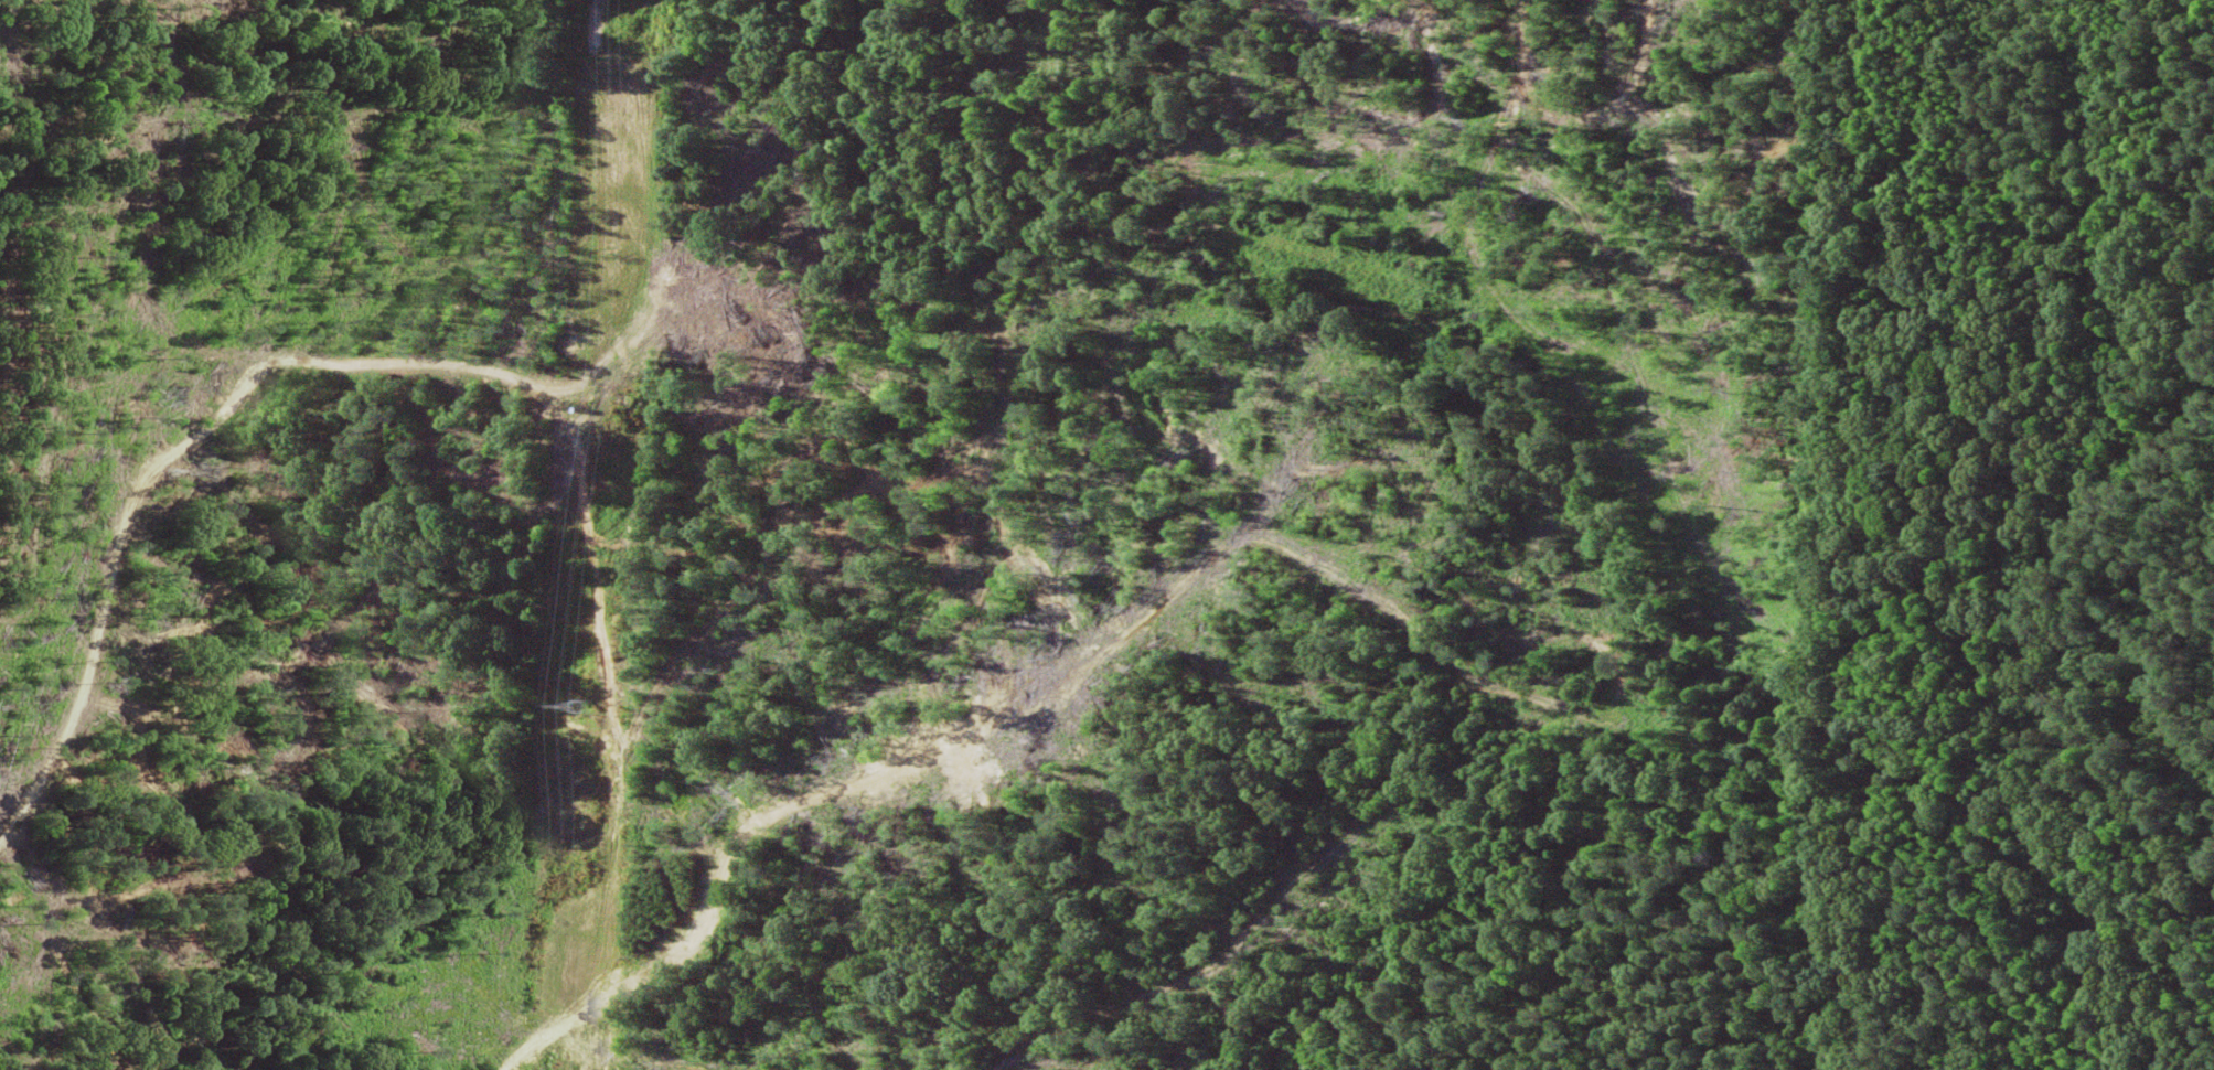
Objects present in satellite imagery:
power tower: (588, 707)

